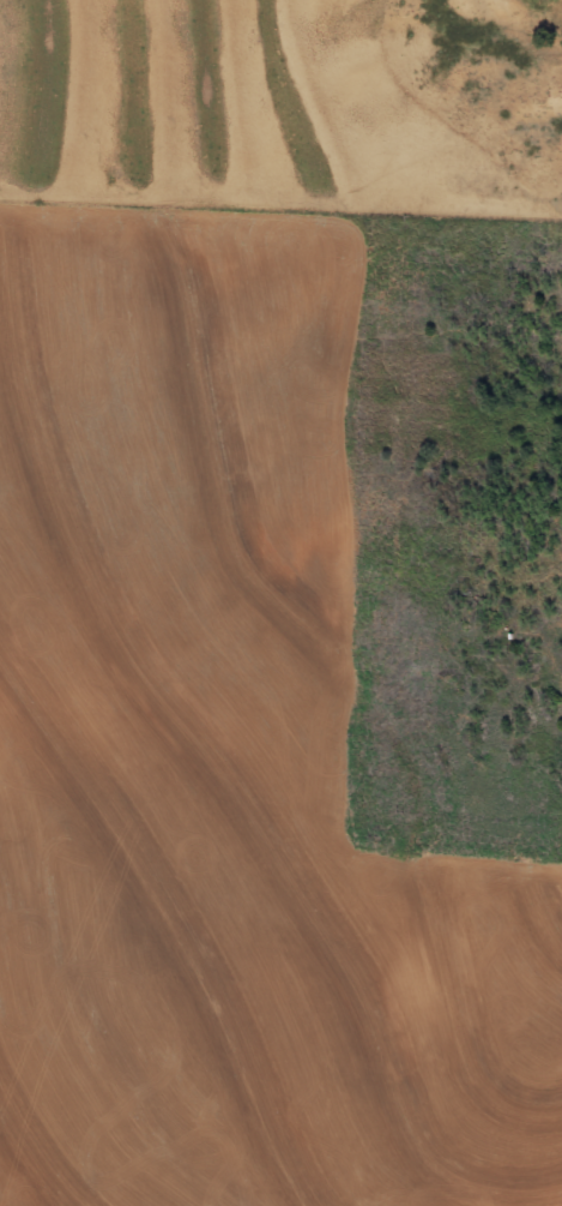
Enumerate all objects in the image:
road: (527, 592)

